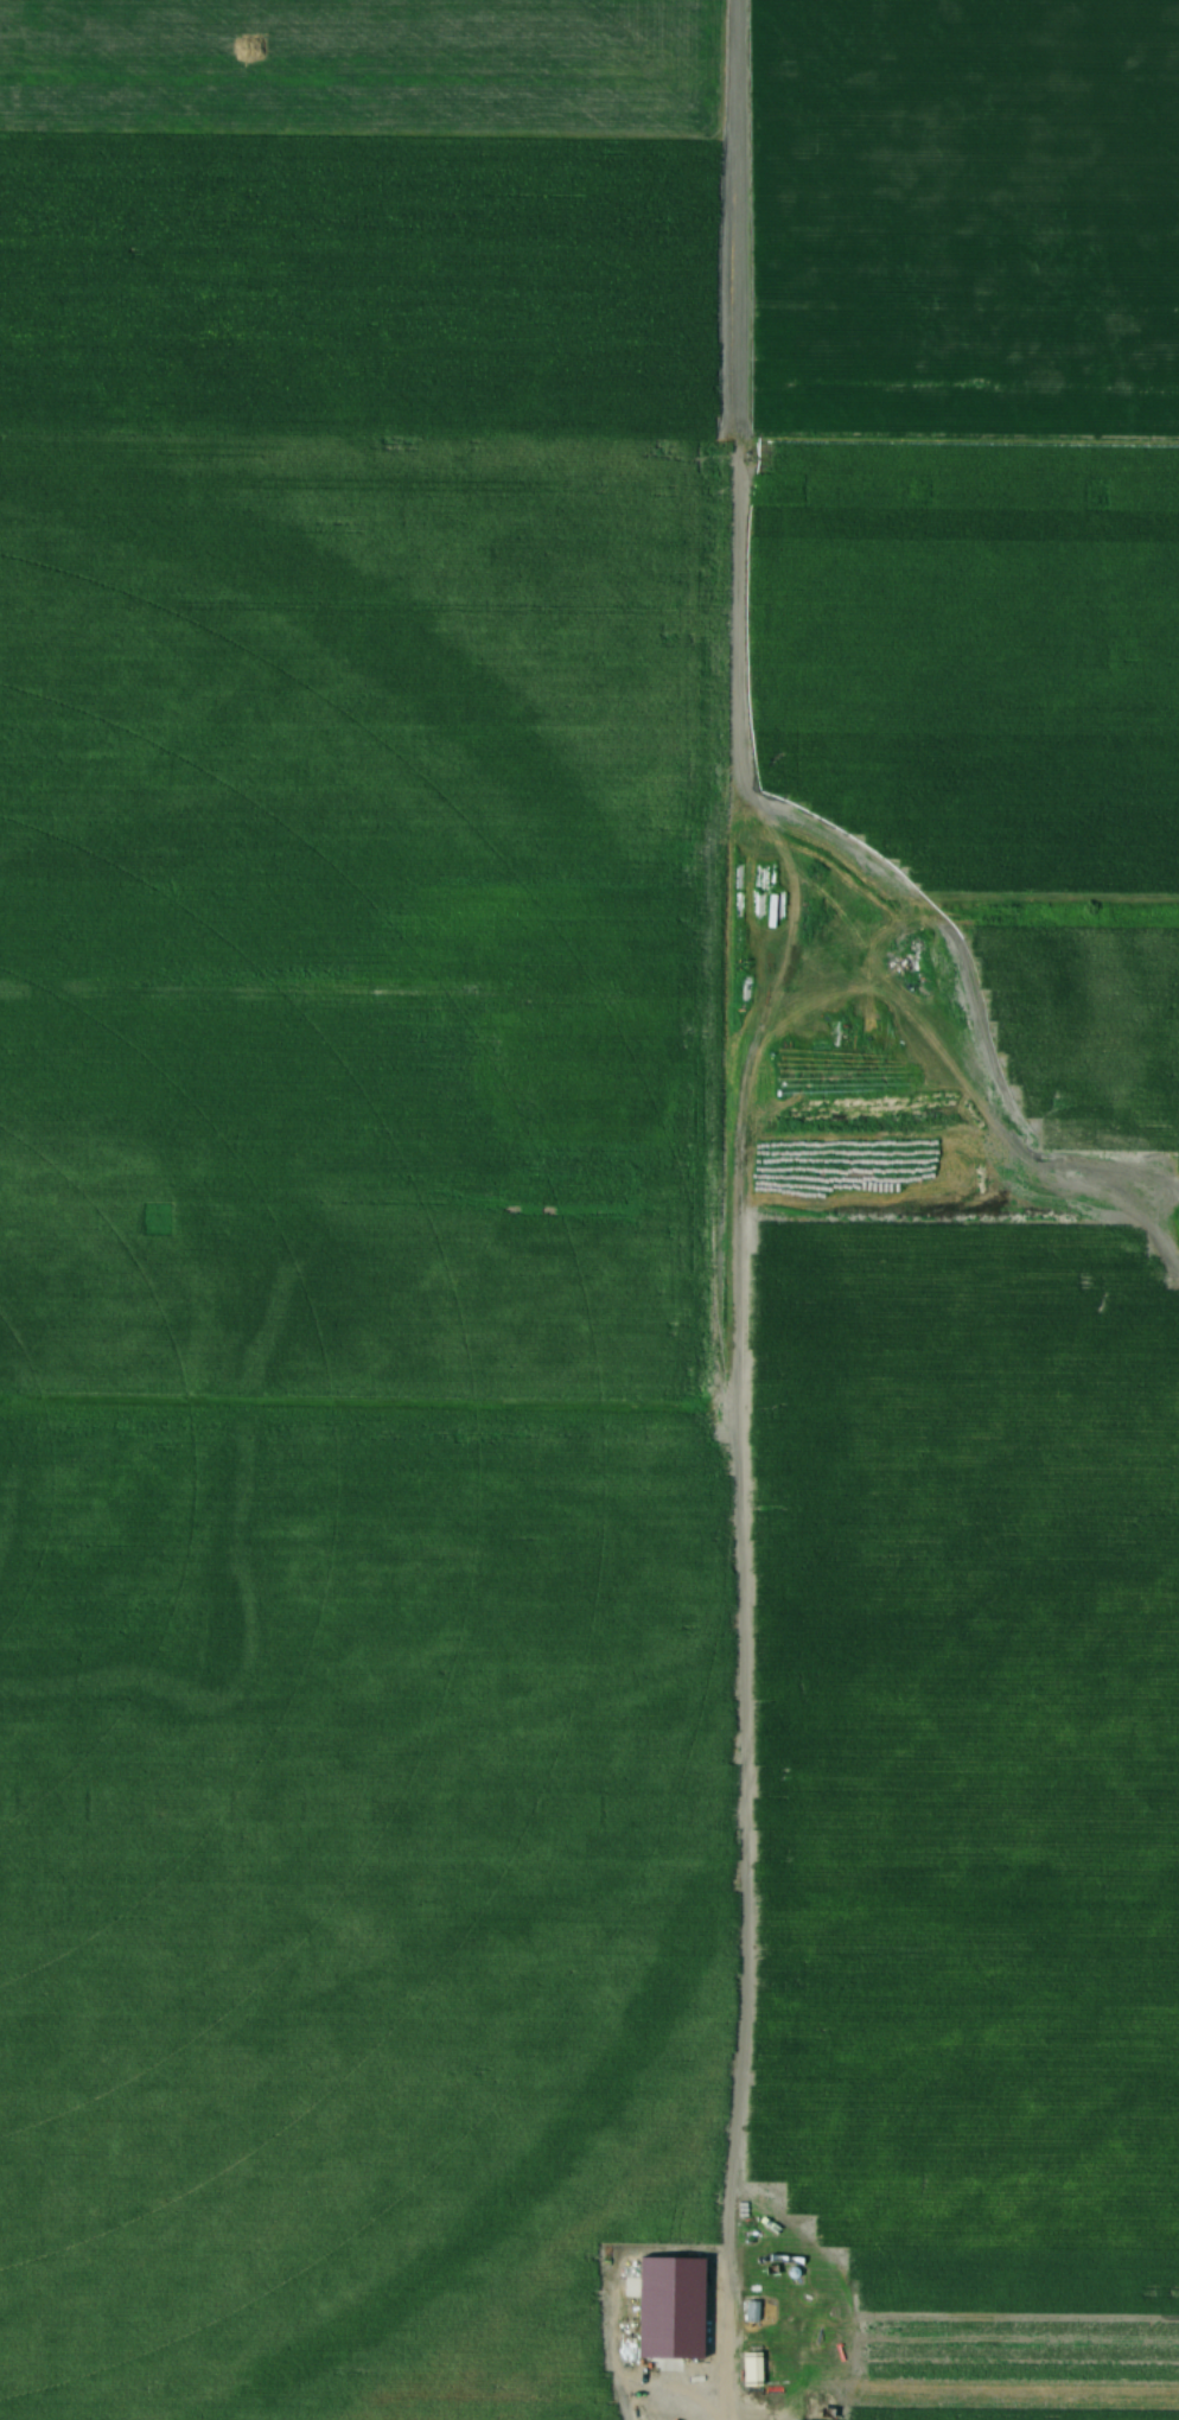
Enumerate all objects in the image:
building: (752, 2313)
building: (756, 2354)

